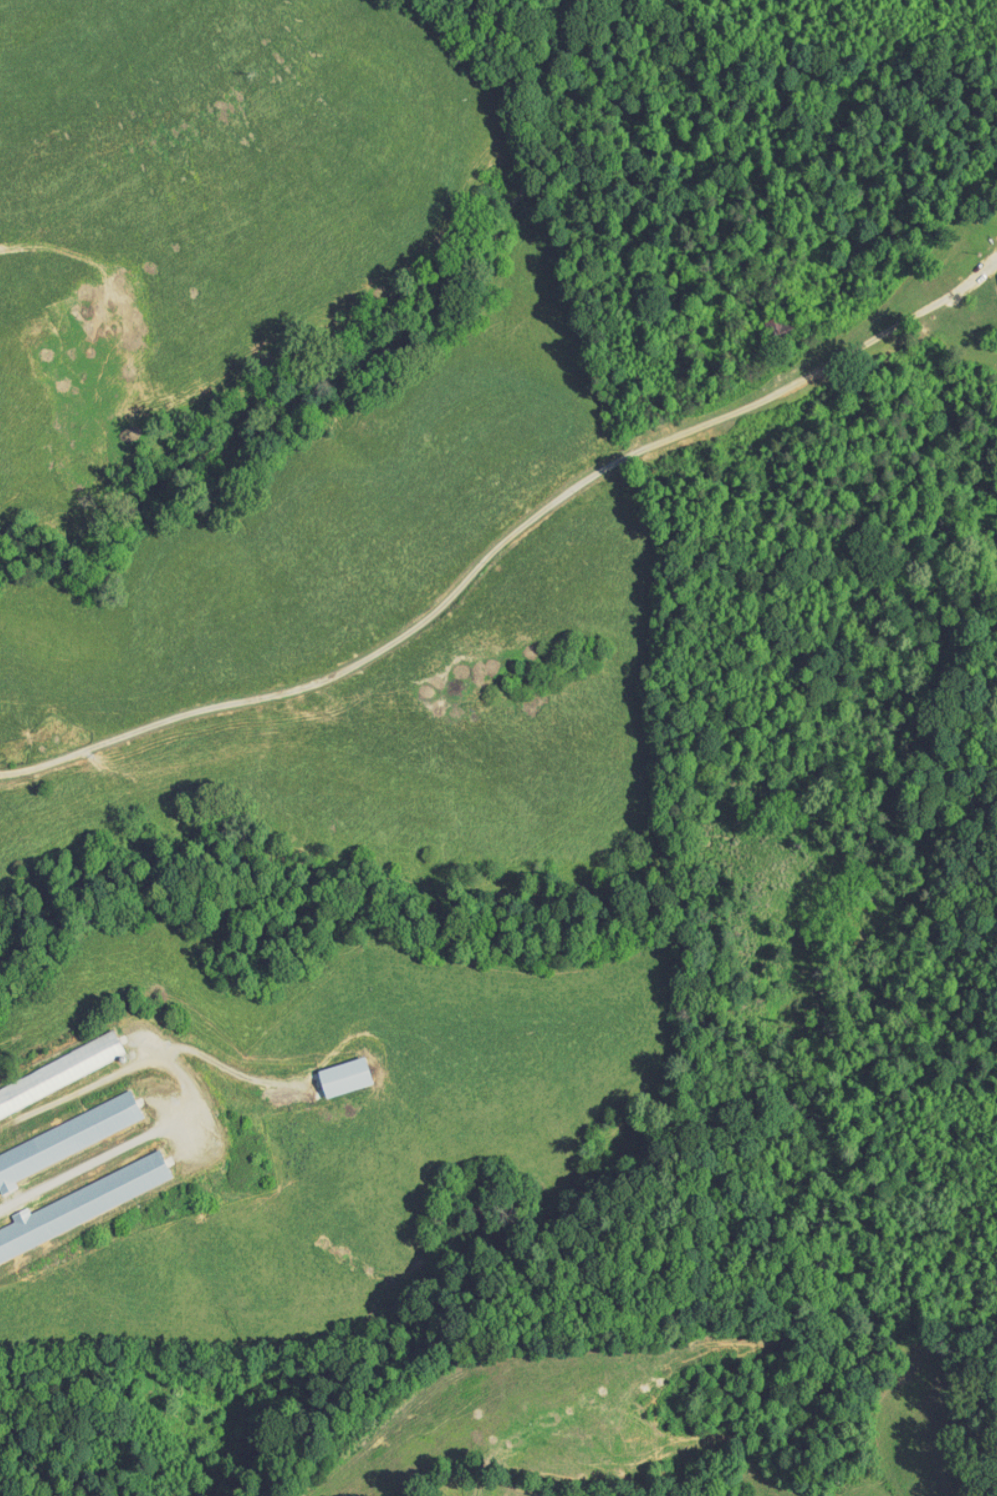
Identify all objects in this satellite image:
building: (993, 282)
road: (892, 327)
road: (415, 627)
building: (330, 1070)
building: (63, 1130)
building: (1, 1178)
building: (77, 1196)

